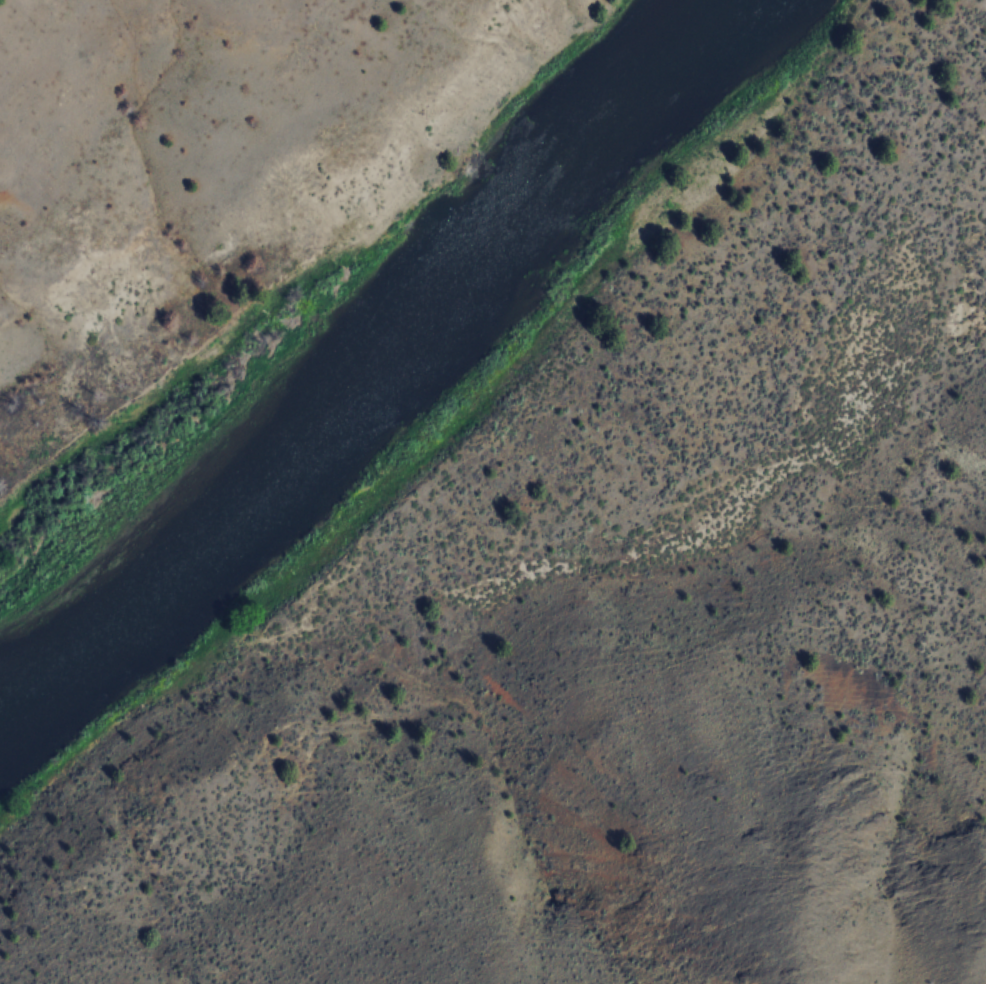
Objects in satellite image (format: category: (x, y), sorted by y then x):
river: (359, 364)

